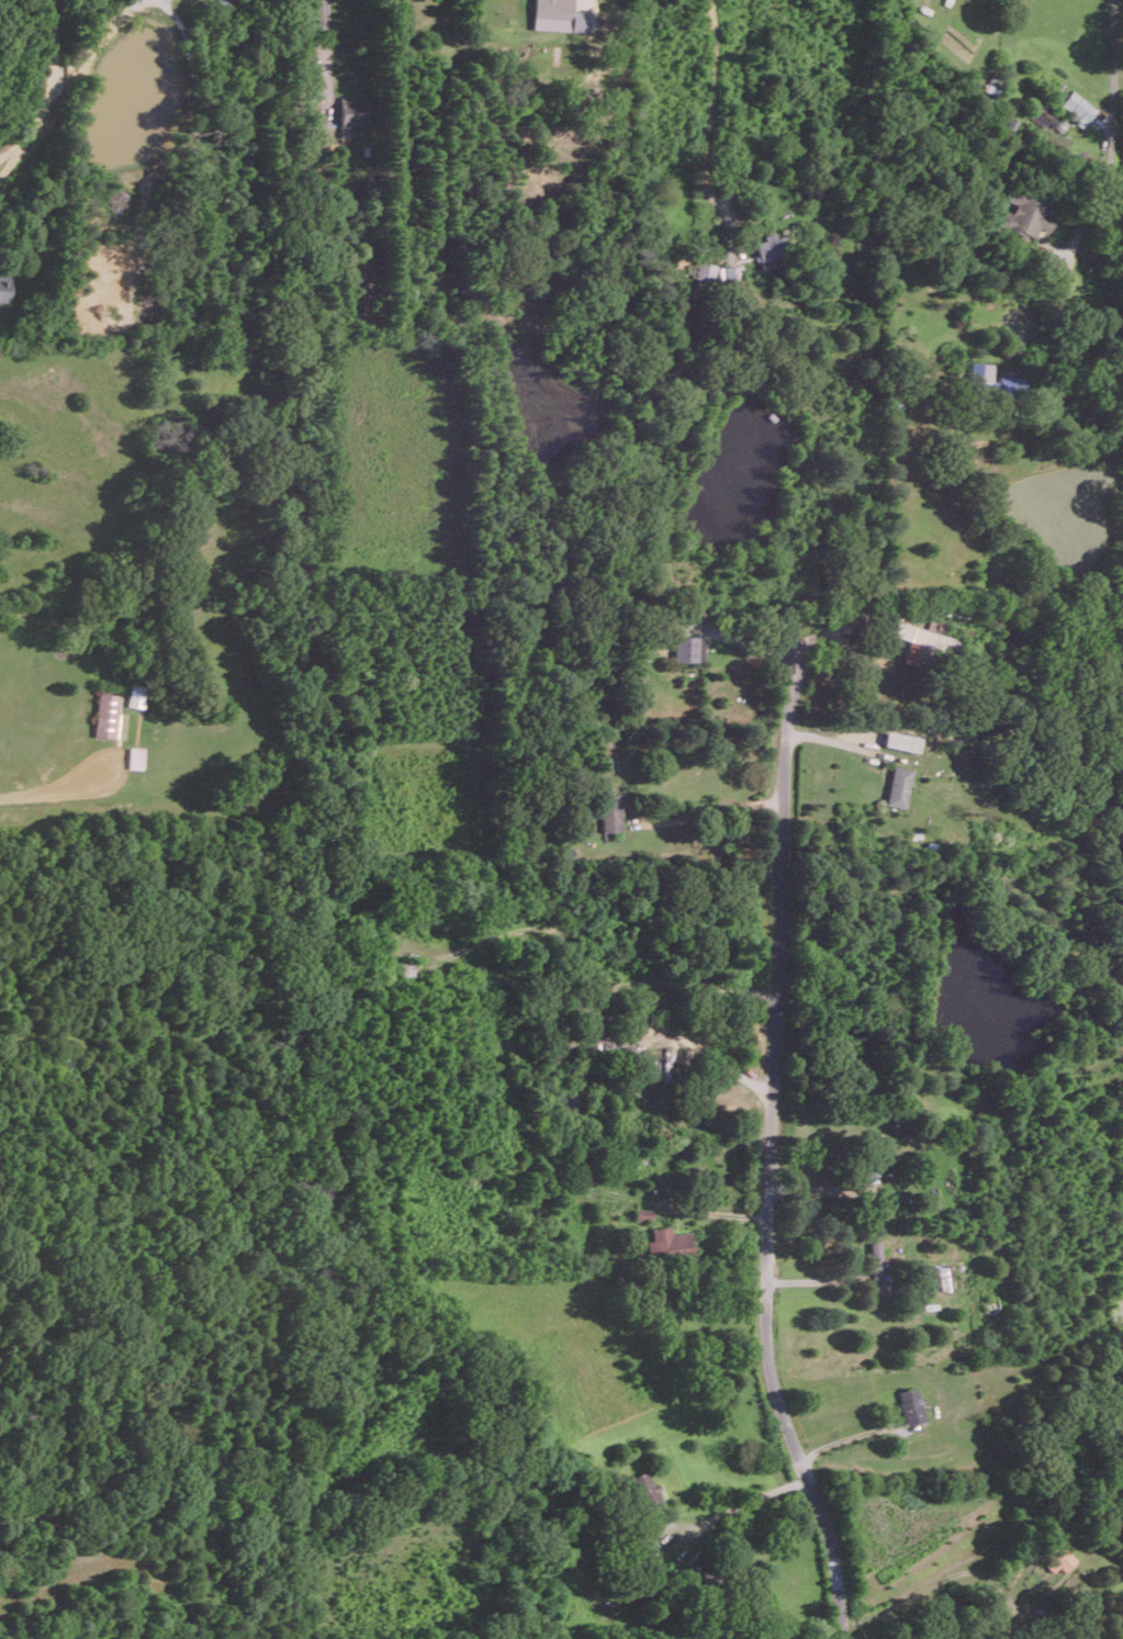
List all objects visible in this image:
building: (559, 15)
road: (324, 35)
road: (49, 87)
road: (712, 103)
building: (1076, 108)
building: (350, 112)
road: (12, 158)
road: (1108, 179)
building: (1029, 217)
building: (772, 249)
building: (705, 270)
building: (730, 273)
building: (4, 287)
building: (996, 381)
building: (936, 625)
building: (925, 642)
building: (688, 648)
building: (135, 694)
building: (110, 716)
building: (901, 740)
building: (136, 756)
building: (898, 786)
road: (54, 788)
building: (610, 812)
road: (710, 812)
building: (666, 1063)
road: (771, 1166)
building: (667, 1245)
building: (876, 1268)
building: (946, 1277)
building: (911, 1405)
road: (845, 1436)
building: (645, 1492)
road: (739, 1504)
building: (1059, 1559)

